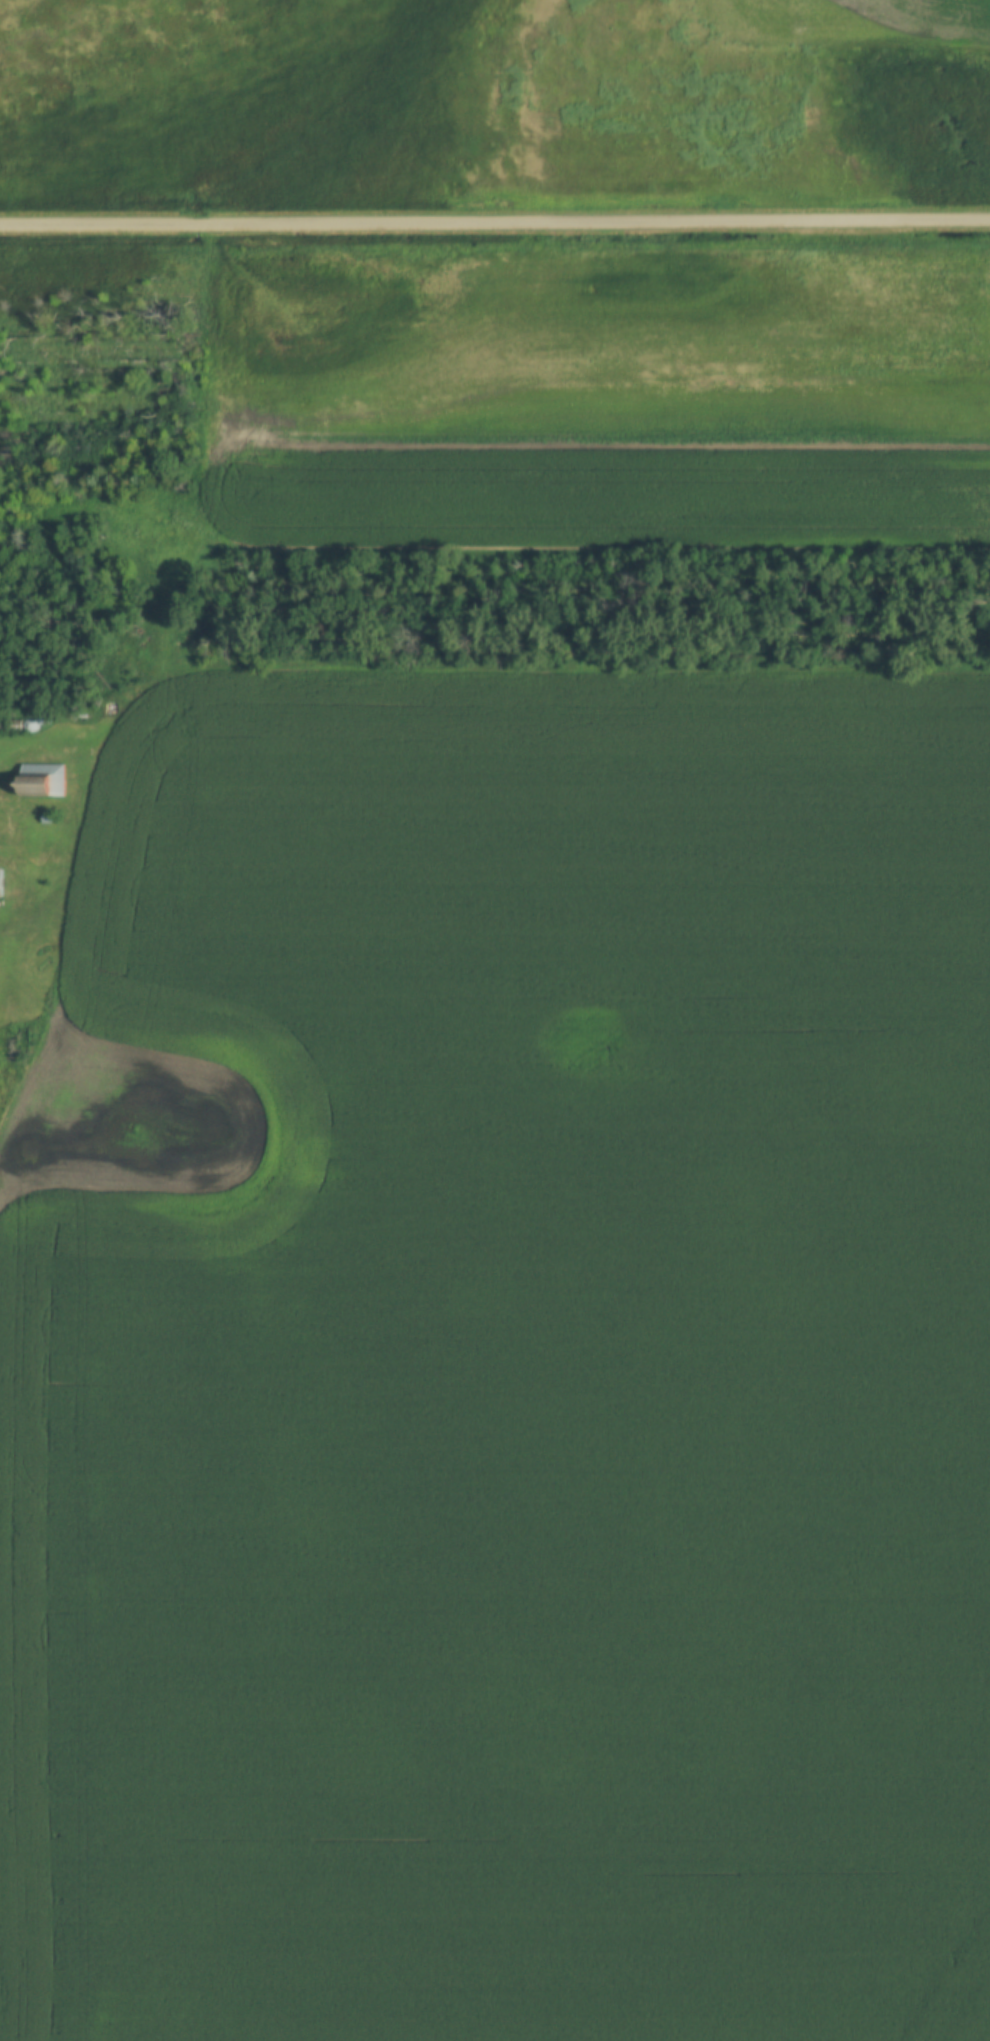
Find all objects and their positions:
crop: (831, 24)
road: (495, 222)
crop: (515, 262)
crop: (636, 426)
road: (154, 683)
building: (46, 720)
silo: (46, 720)
building: (12, 726)
building: (31, 727)
silo: (31, 727)
building: (46, 781)
building: (48, 819)
building: (1, 883)
building: (5, 1044)
crop: (504, 1358)
crop: (979, 2026)

